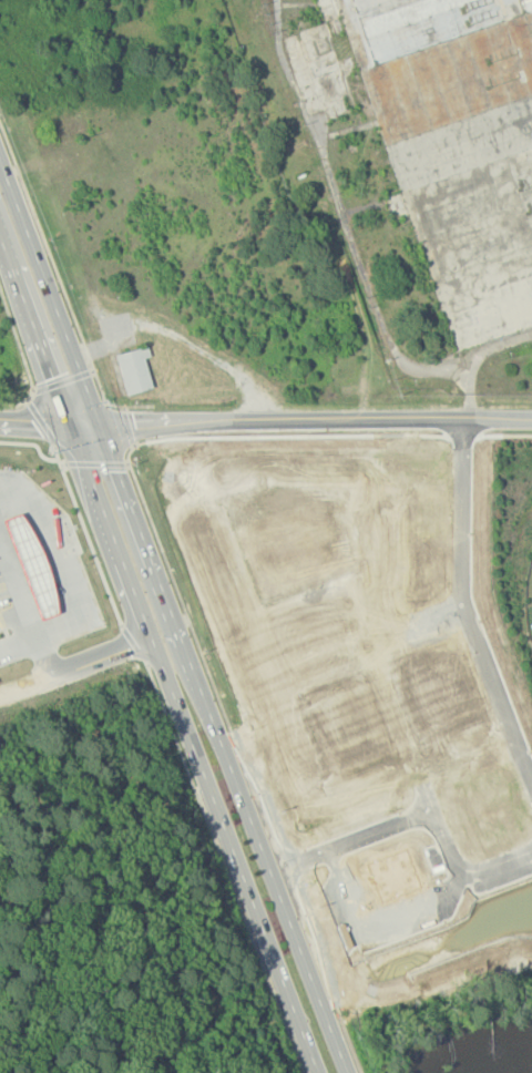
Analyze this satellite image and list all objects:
road: (341, 213)
road: (62, 284)
road: (50, 289)
road: (34, 327)
road: (20, 354)
road: (474, 357)
building: (135, 369)
traffic signals: (53, 378)
road: (63, 381)
power tower: (449, 386)
road: (265, 418)
traffic signals: (34, 421)
road: (41, 421)
traffic signals: (135, 422)
road: (127, 426)
road: (510, 430)
road: (33, 443)
power tower: (183, 446)
road: (94, 463)
traffic signals: (117, 470)
road: (12, 487)
road: (88, 534)
building: (31, 564)
road: (72, 582)
road: (18, 590)
road: (464, 605)
road: (11, 610)
road: (134, 644)
road: (81, 664)
road: (193, 747)
road: (224, 748)
road: (242, 758)
road: (421, 815)
road: (225, 868)

